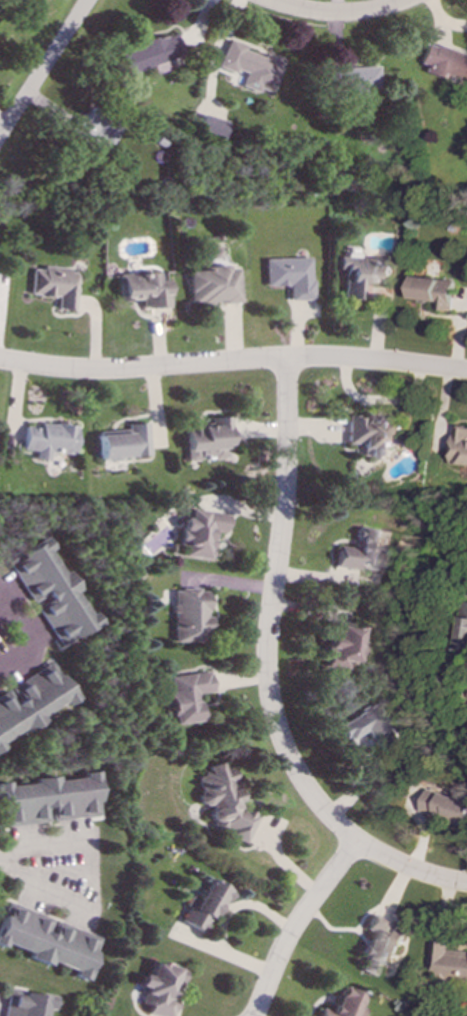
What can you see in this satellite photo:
road: (339, 14)
building: (151, 52)
building: (443, 61)
road: (44, 66)
building: (250, 66)
building: (350, 80)
building: (93, 126)
building: (211, 126)
building: (287, 274)
building: (360, 274)
building: (54, 284)
building: (211, 284)
building: (142, 288)
building: (431, 291)
road: (233, 361)
building: (371, 432)
building: (207, 438)
building: (47, 439)
building: (123, 441)
building: (459, 446)
building: (196, 531)
building: (360, 550)
building: (49, 591)
building: (187, 614)
building: (461, 633)
road: (24, 641)
building: (339, 645)
road: (266, 672)
building: (186, 695)
building: (31, 699)
building: (369, 727)
building: (0, 746)
building: (47, 799)
building: (223, 802)
building: (444, 806)
road: (5, 859)
road: (83, 875)
building: (202, 905)
road: (222, 918)
road: (297, 924)
building: (46, 939)
building: (379, 942)
building: (446, 962)
building: (158, 988)
building: (24, 1003)
building: (342, 1004)

